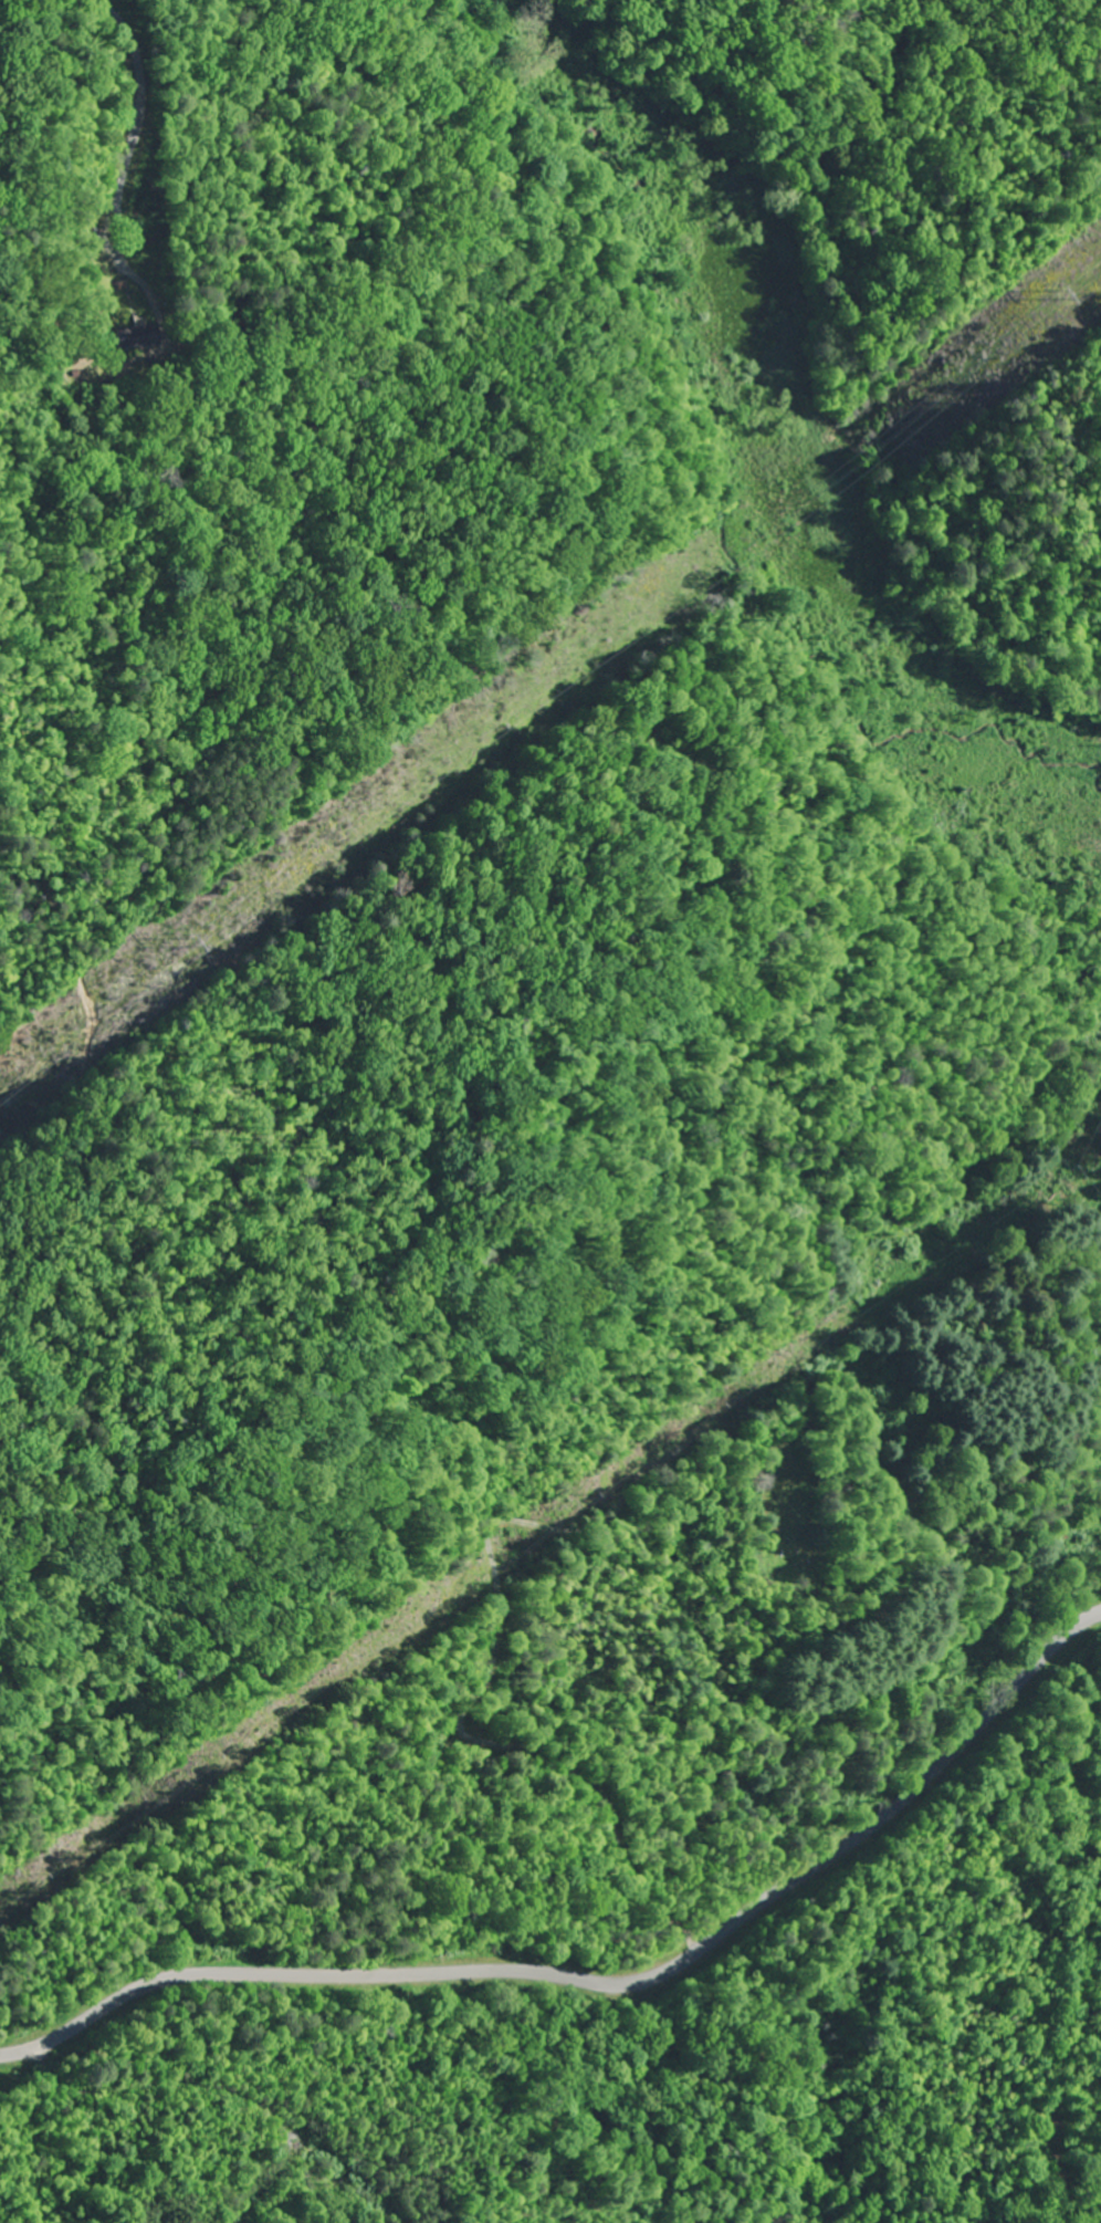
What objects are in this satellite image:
road: (140, 87)
building: (135, 336)
power tower: (193, 943)
road: (608, 1985)
road: (212, 2089)

